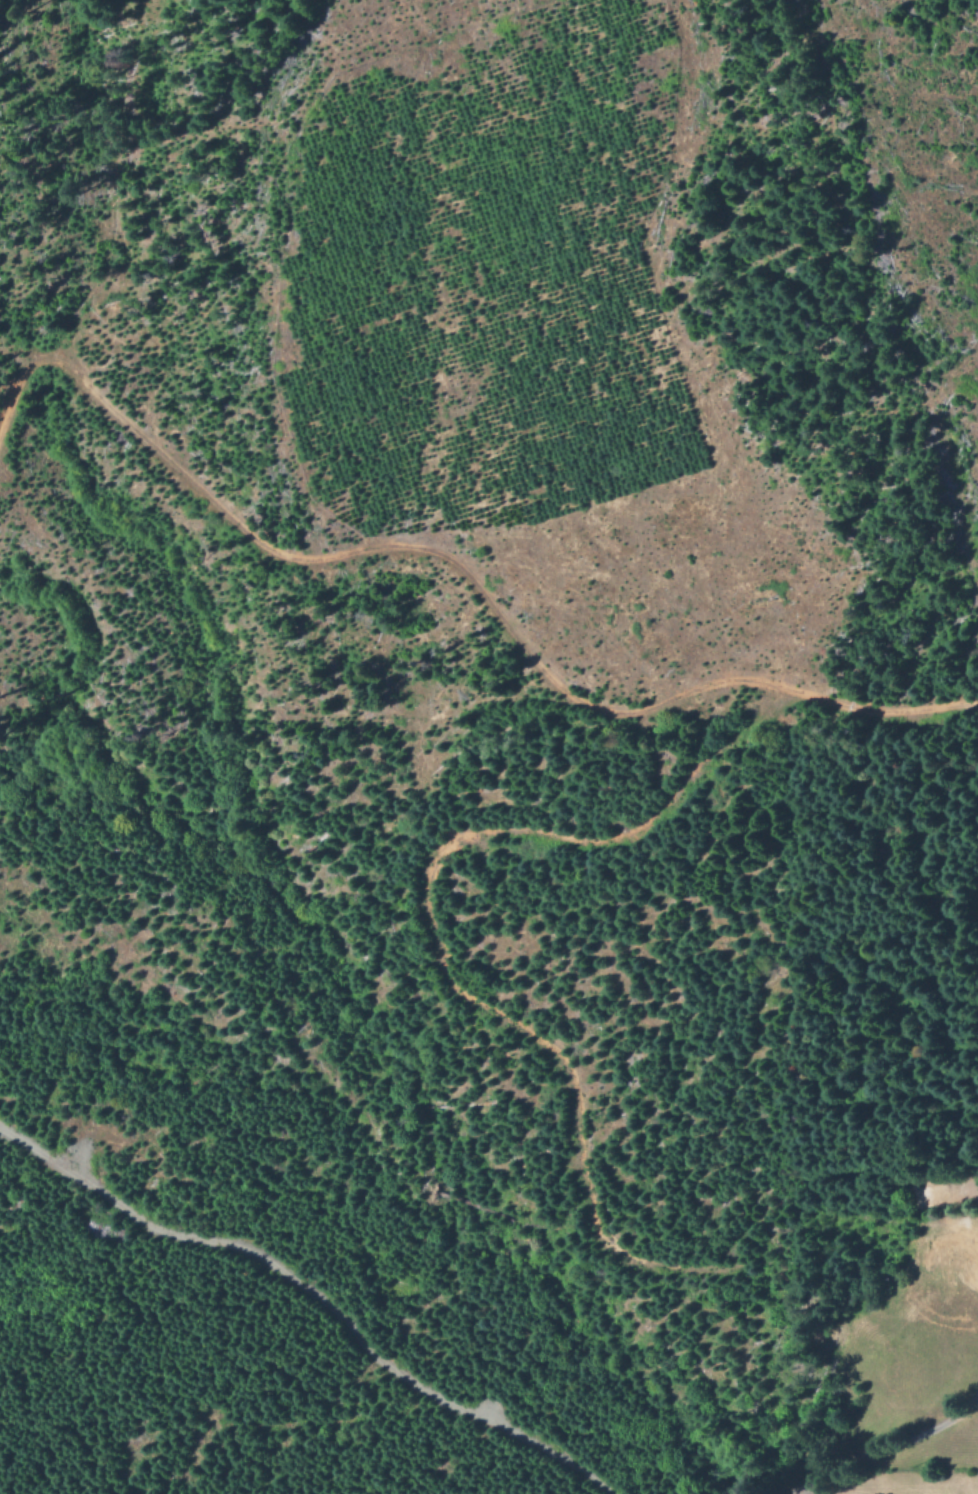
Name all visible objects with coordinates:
building: (921, 1199)
building: (949, 1252)
road: (828, 1467)

